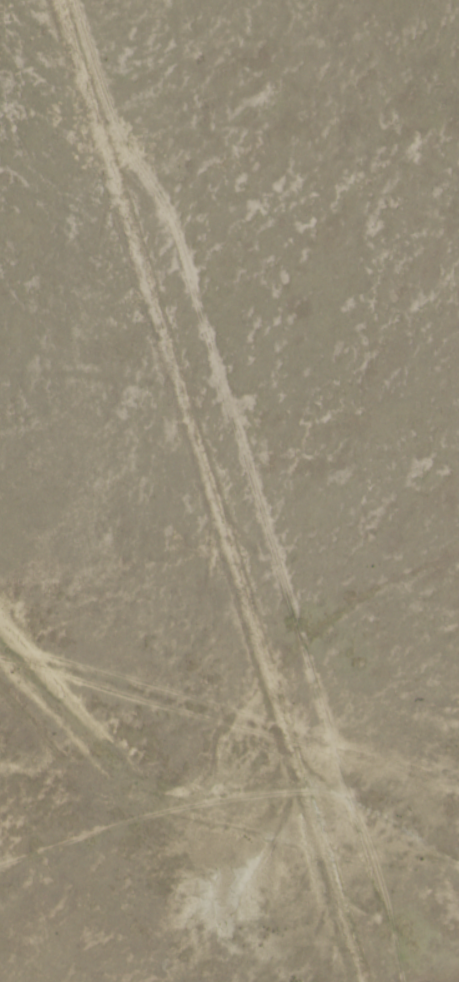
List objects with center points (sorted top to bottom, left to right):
road: (214, 490)
road: (149, 856)

